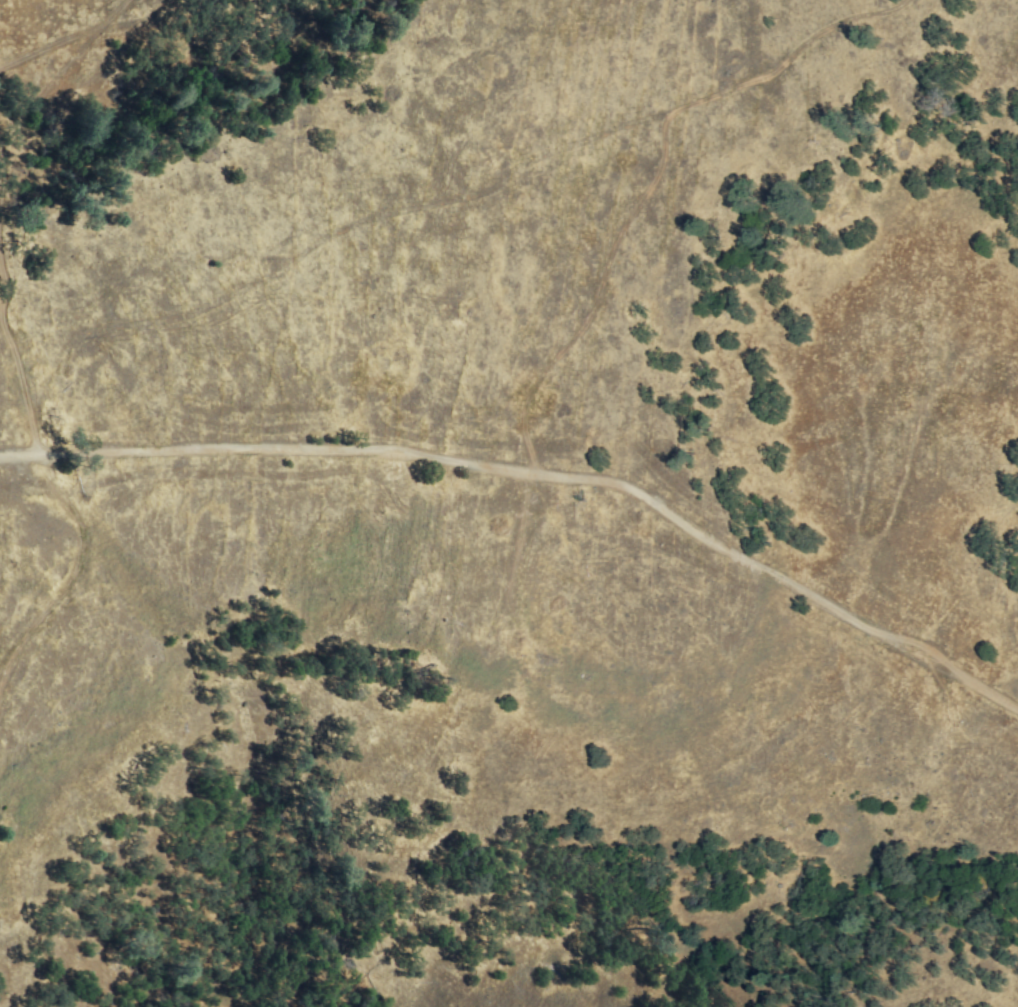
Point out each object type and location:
road: (535, 474)

